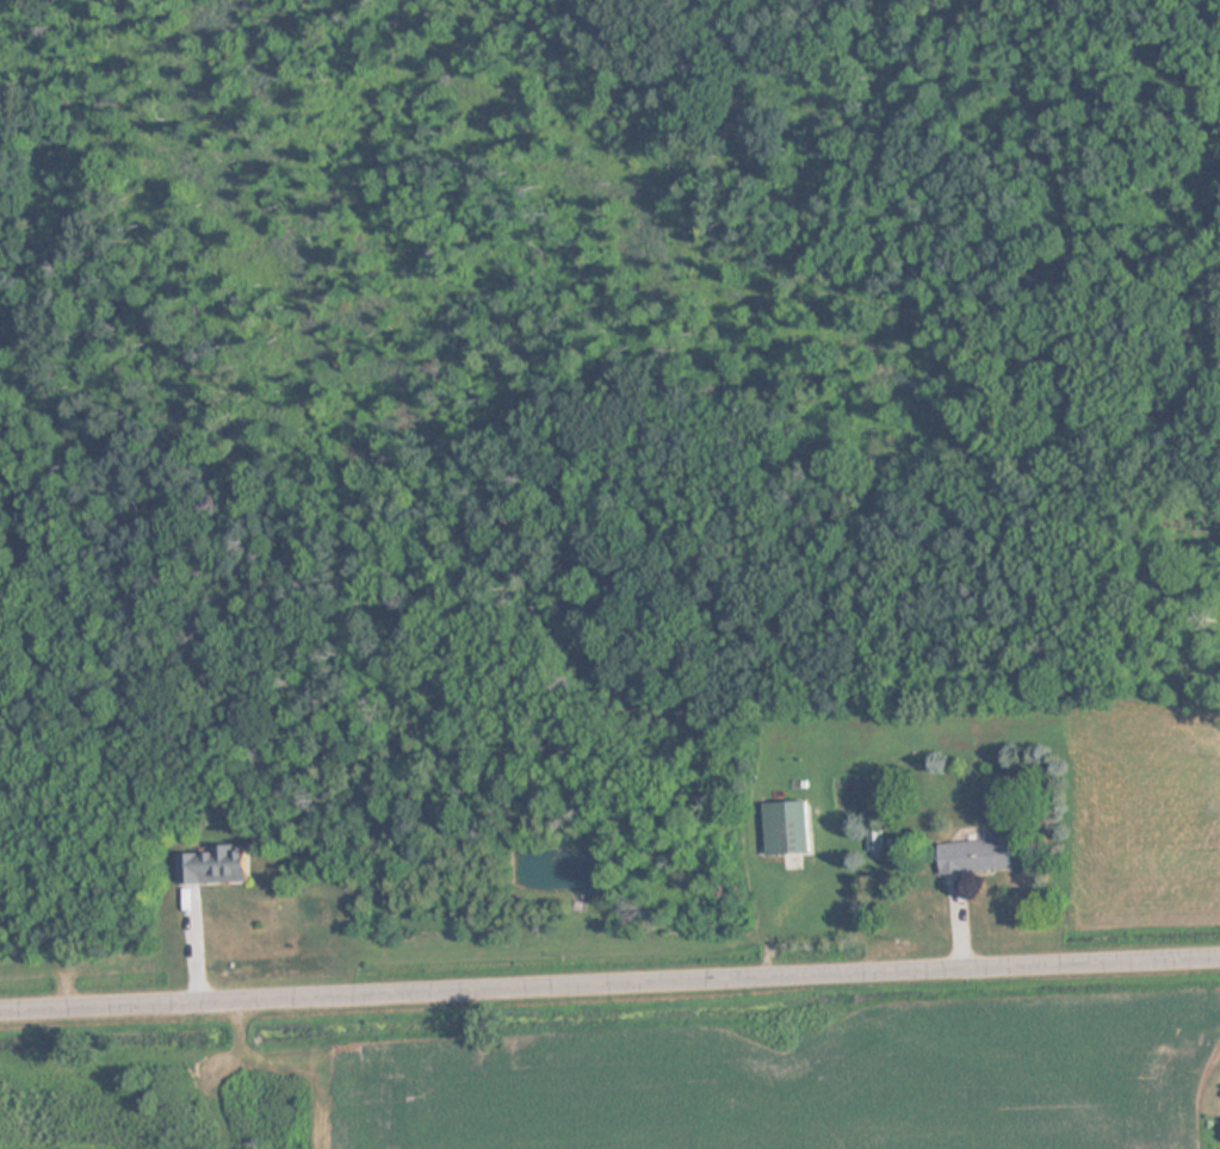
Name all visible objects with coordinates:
building: (792, 827)
building: (980, 856)
building: (221, 867)
road: (609, 982)

